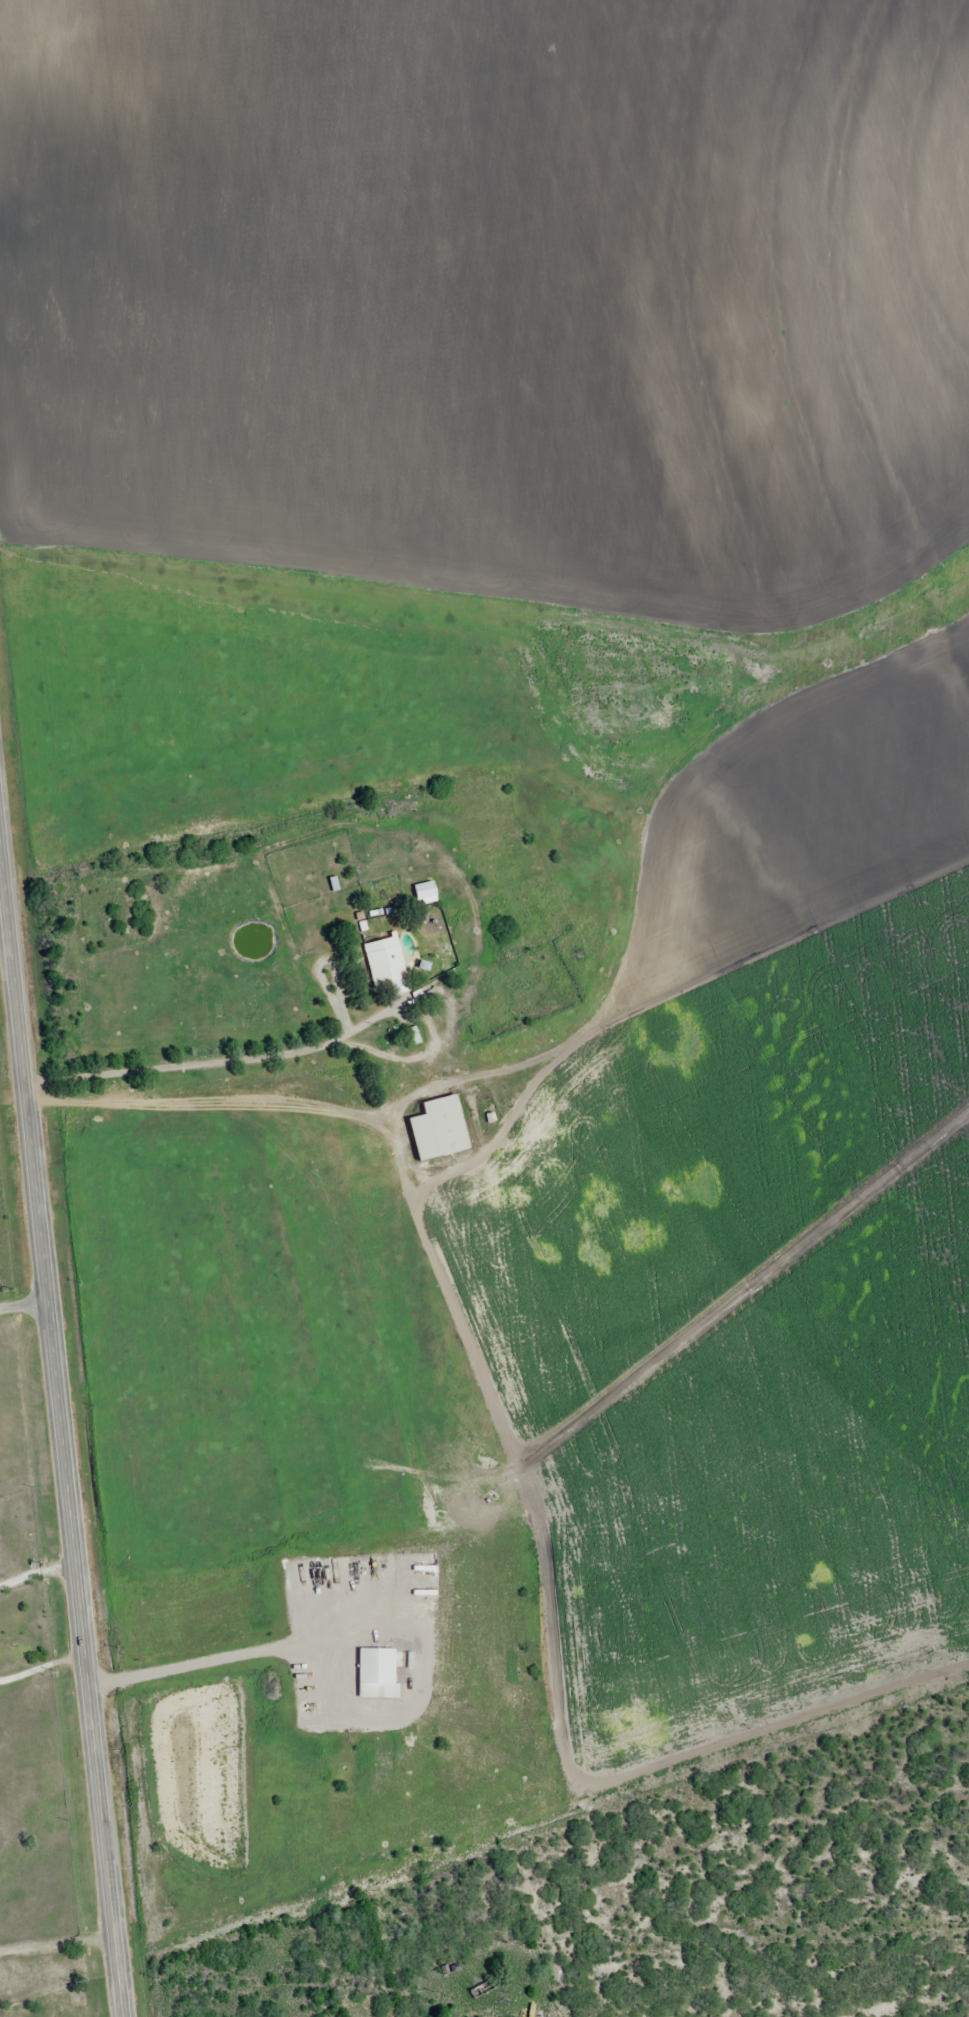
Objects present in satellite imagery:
road: (171, 93)
road: (0, 874)
building: (388, 971)
building: (444, 1129)
road: (25, 1302)
road: (63, 1440)
road: (37, 1574)
road: (42, 1669)
building: (383, 1677)
road: (55, 1928)
road: (417, 1992)

